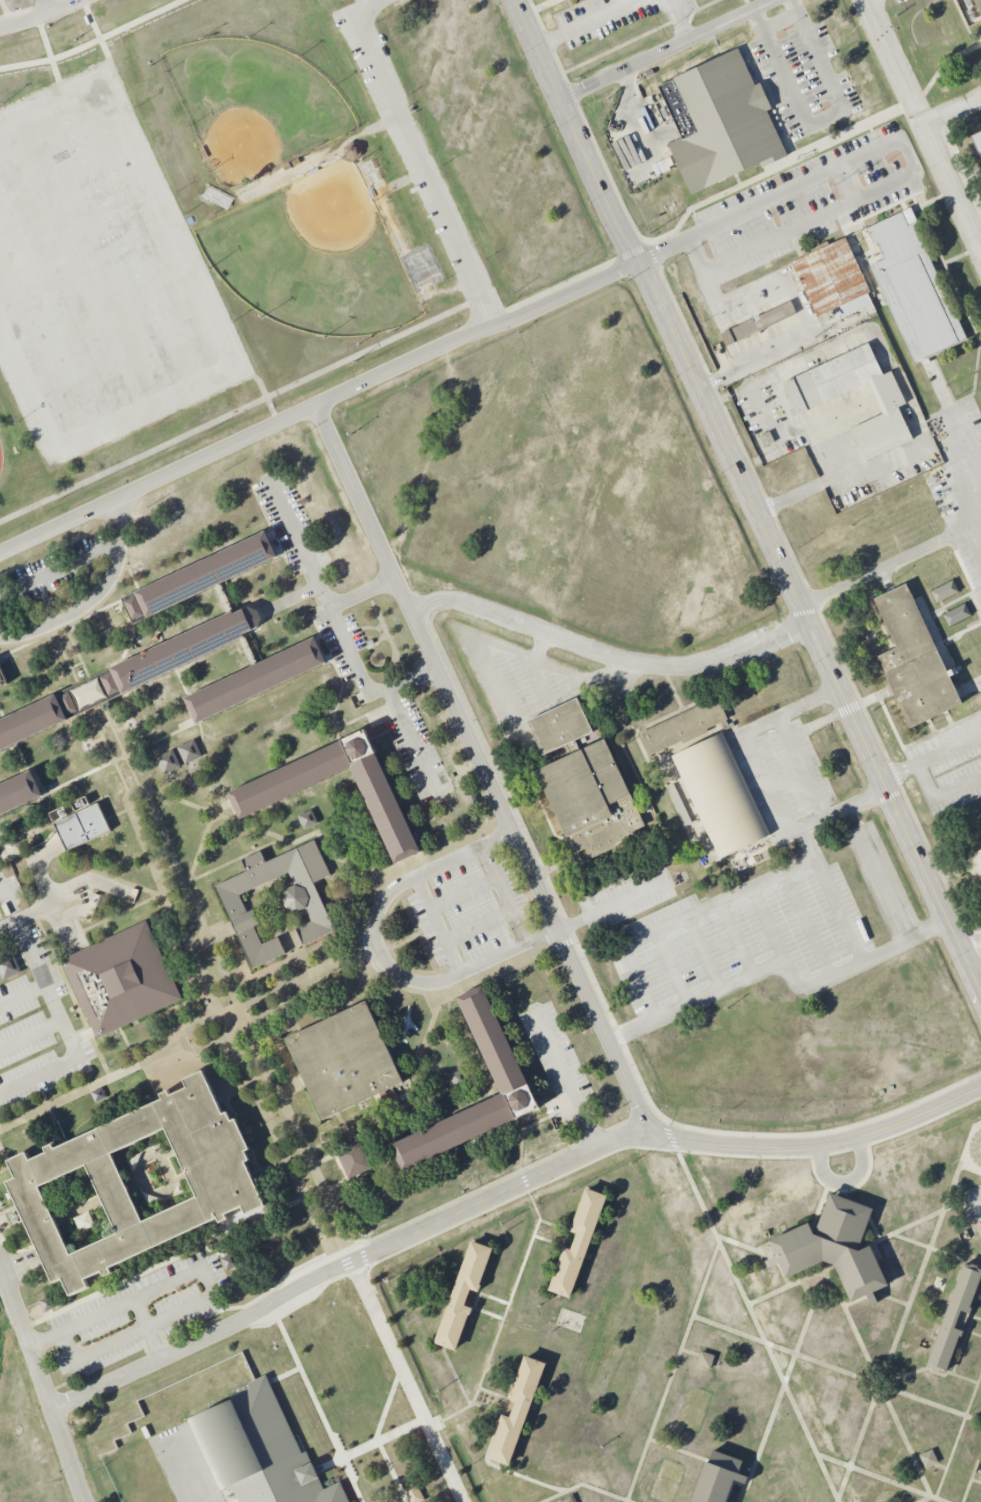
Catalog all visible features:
road: (867, 0)
parking lot: (895, 1)
building: (978, 4)
road: (46, 6)
road: (367, 6)
road: (4, 7)
road: (27, 9)
road: (871, 12)
road: (41, 15)
parking lot: (614, 16)
road: (680, 21)
road: (585, 23)
road: (782, 24)
road: (121, 28)
road: (671, 50)
road: (51, 59)
parking lot: (805, 75)
park: (254, 105)
road: (952, 114)
road: (823, 119)
building: (721, 122)
road: (575, 131)
road: (929, 138)
building: (978, 142)
road: (906, 149)
building: (351, 152)
road: (424, 170)
road: (847, 185)
parking lot: (803, 206)
park: (314, 257)
building: (833, 281)
building: (914, 289)
road: (460, 307)
building: (759, 323)
road: (476, 332)
building: (816, 393)
building: (766, 438)
road: (157, 481)
road: (363, 508)
road: (306, 549)
road: (896, 560)
road: (60, 563)
building: (199, 577)
road: (363, 588)
building: (944, 591)
road: (94, 596)
building: (956, 614)
road: (810, 622)
road: (60, 628)
road: (479, 645)
road: (609, 656)
building: (914, 661)
road: (367, 674)
building: (125, 676)
road: (580, 677)
building: (2, 680)
building: (255, 680)
building: (683, 727)
building: (189, 751)
road: (932, 755)
building: (168, 761)
road: (799, 767)
building: (584, 783)
road: (142, 790)
building: (18, 792)
building: (720, 794)
road: (780, 803)
building: (250, 805)
road: (843, 806)
building: (307, 819)
building: (82, 827)
building: (975, 865)
road: (529, 867)
road: (888, 885)
road: (503, 892)
road: (388, 899)
building: (303, 903)
road: (8, 922)
road: (437, 922)
road: (557, 927)
road: (971, 938)
road: (784, 965)
building: (9, 967)
building: (121, 979)
road: (24, 995)
road: (58, 1007)
building: (495, 1045)
building: (344, 1060)
building: (459, 1078)
road: (569, 1082)
flagpole: (977, 1131)
flagpole: (973, 1136)
flagpole: (971, 1141)
road: (818, 1145)
flagpole: (969, 1146)
flagpole: (970, 1153)
building: (354, 1158)
flagpole: (972, 1159)
flagpole: (976, 1163)
flagpole: (980, 1167)
road: (844, 1179)
building: (134, 1184)
road: (917, 1222)
building: (577, 1242)
road: (739, 1244)
building: (833, 1248)
road: (936, 1249)
building: (228, 1261)
road: (348, 1267)
road: (919, 1272)
road: (206, 1282)
road: (787, 1286)
building: (463, 1295)
road: (890, 1298)
building: (46, 1304)
road: (103, 1310)
road: (505, 1314)
building: (954, 1317)
road: (971, 1319)
road: (758, 1326)
road: (683, 1342)
road: (102, 1349)
road: (799, 1355)
road: (957, 1358)
building: (705, 1359)
road: (284, 1374)
road: (877, 1380)
road: (412, 1383)
road: (782, 1386)
road: (43, 1389)
road: (386, 1409)
road: (319, 1410)
building: (516, 1410)
road: (895, 1421)
road: (654, 1424)
road: (958, 1435)
road: (366, 1447)
building: (260, 1450)
building: (928, 1458)
road: (392, 1472)
road: (636, 1472)
road: (527, 1476)
road: (971, 1476)
building: (980, 1476)
building: (717, 1478)
road: (881, 1478)
road: (582, 1484)
building: (413, 1493)
building: (567, 1500)
road: (625, 1501)

